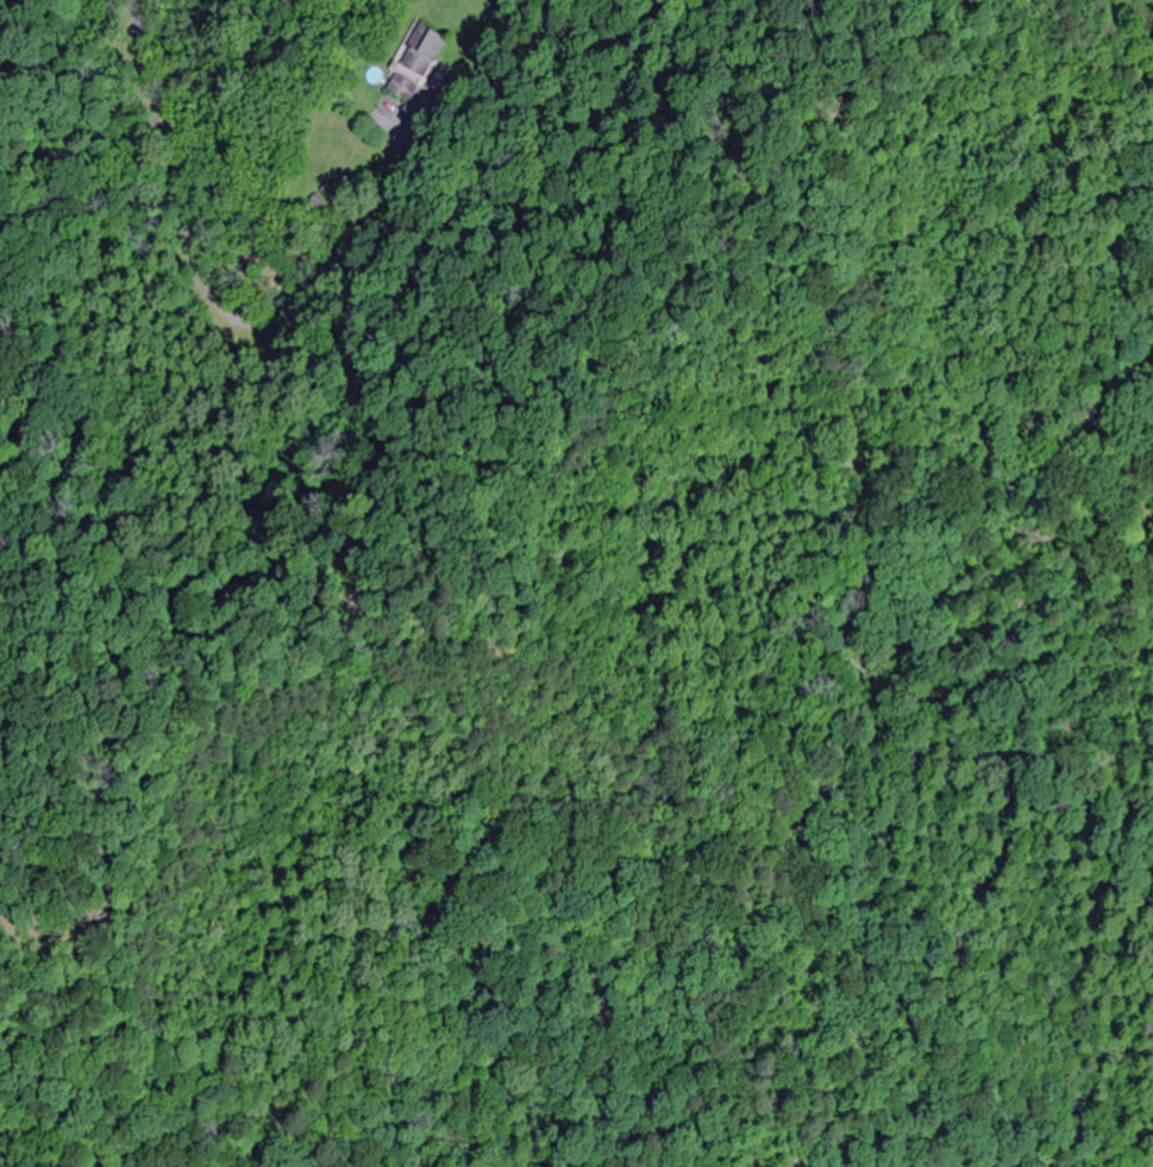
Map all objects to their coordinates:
building: (426, 50)
building: (405, 86)
road: (301, 115)

